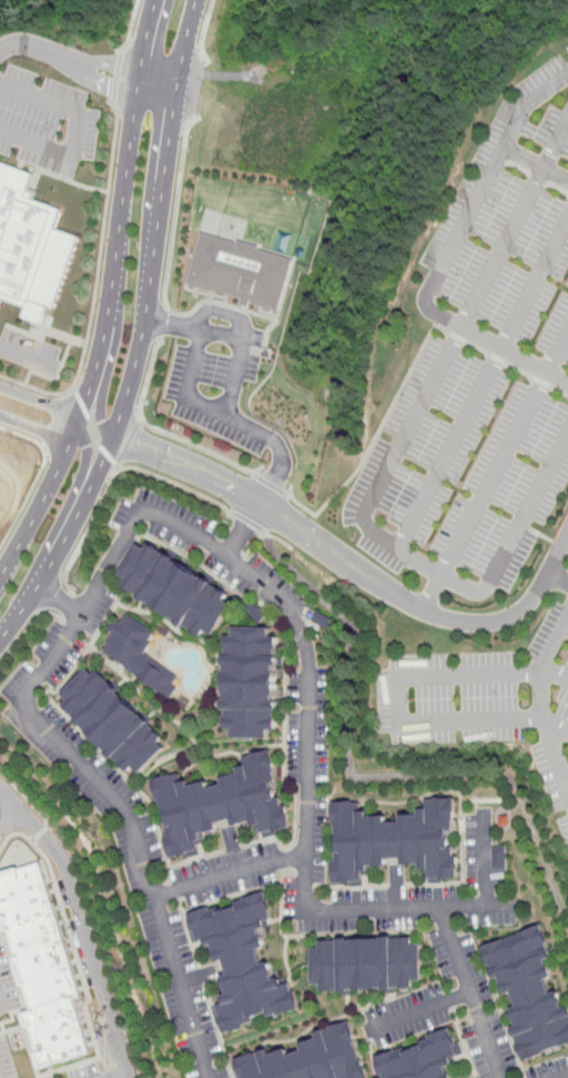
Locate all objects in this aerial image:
road: (134, 28)
road: (204, 31)
road: (72, 56)
road: (119, 75)
road: (161, 84)
parking lot: (45, 122)
road: (74, 130)
road: (535, 163)
road: (64, 178)
road: (176, 211)
parking lot: (511, 235)
building: (30, 246)
road: (447, 253)
building: (242, 271)
road: (97, 282)
road: (111, 299)
road: (222, 312)
road: (162, 323)
road: (171, 323)
road: (142, 334)
road: (454, 340)
road: (193, 344)
parking lot: (28, 351)
road: (26, 360)
road: (511, 365)
parking lot: (219, 374)
road: (148, 381)
road: (40, 400)
road: (103, 404)
road: (58, 420)
road: (75, 426)
road: (37, 430)
road: (94, 430)
road: (379, 431)
road: (26, 433)
road: (130, 445)
road: (201, 450)
road: (85, 466)
road: (281, 466)
road: (494, 471)
parking lot: (460, 474)
road: (115, 475)
road: (275, 486)
road: (29, 501)
road: (415, 511)
road: (252, 524)
road: (246, 530)
parking lot: (561, 533)
road: (556, 550)
road: (346, 561)
building: (177, 592)
road: (52, 595)
road: (60, 601)
road: (565, 626)
road: (21, 638)
building: (142, 658)
road: (542, 663)
building: (252, 685)
road: (397, 698)
parking lot: (487, 698)
building: (112, 726)
road: (55, 742)
road: (554, 755)
road: (352, 775)
road: (26, 800)
road: (8, 805)
building: (220, 807)
parking lot: (564, 828)
road: (39, 832)
building: (396, 846)
building: (500, 857)
road: (226, 872)
road: (304, 875)
road: (486, 887)
road: (84, 929)
building: (242, 964)
building: (43, 967)
building: (366, 969)
parking lot: (8, 984)
building: (531, 995)
building: (306, 1060)
building: (424, 1061)
road: (123, 1077)
road: (128, 1077)

